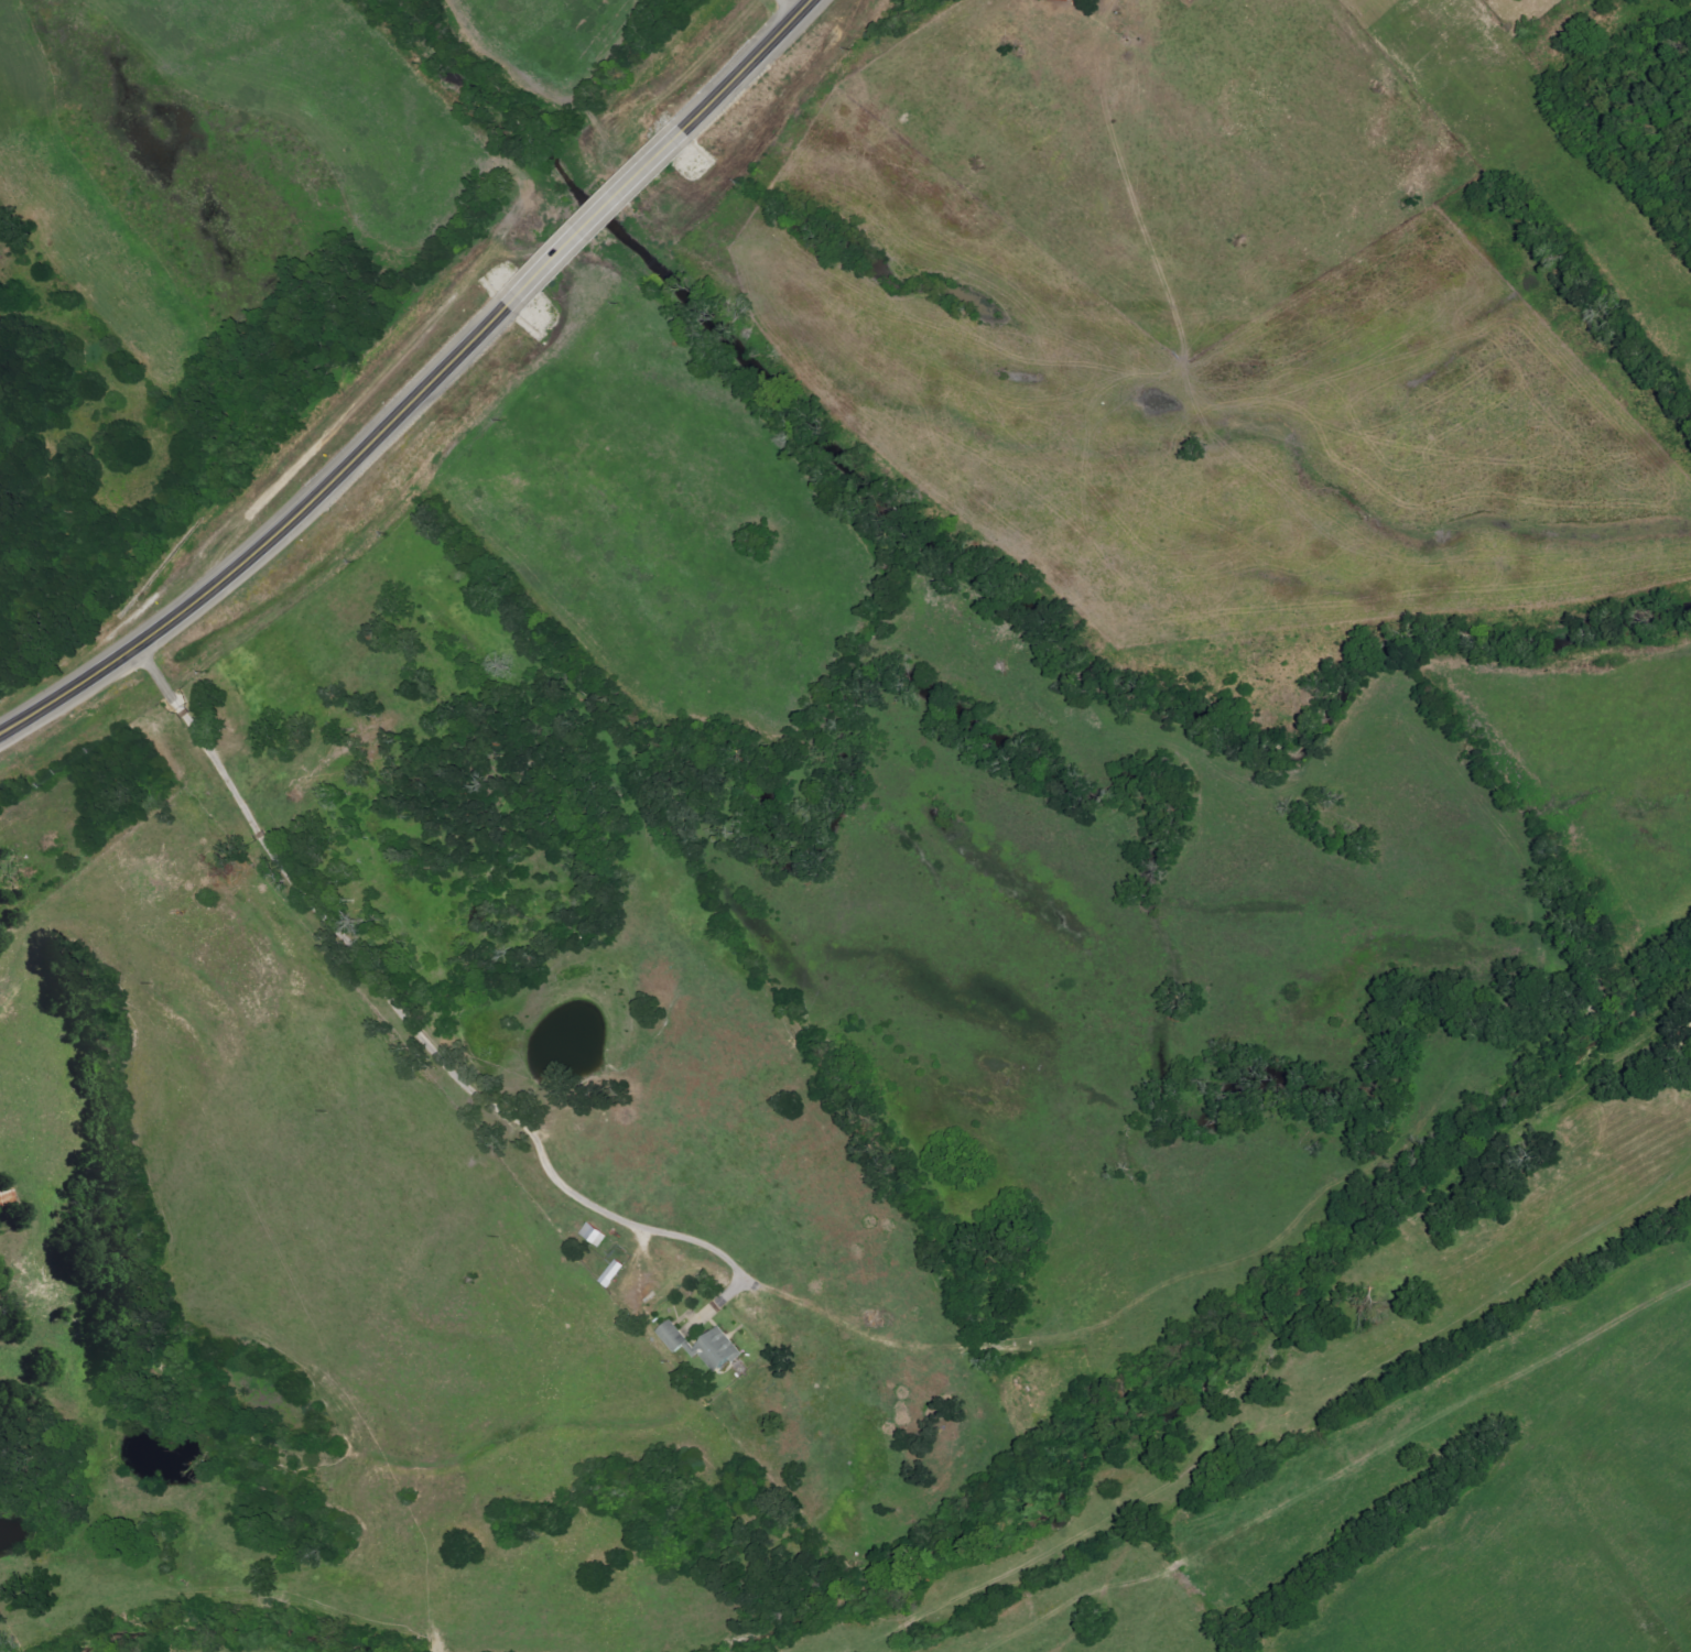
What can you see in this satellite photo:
road: (391, 379)
road: (361, 960)
building: (596, 1235)
building: (675, 1337)
building: (722, 1351)

